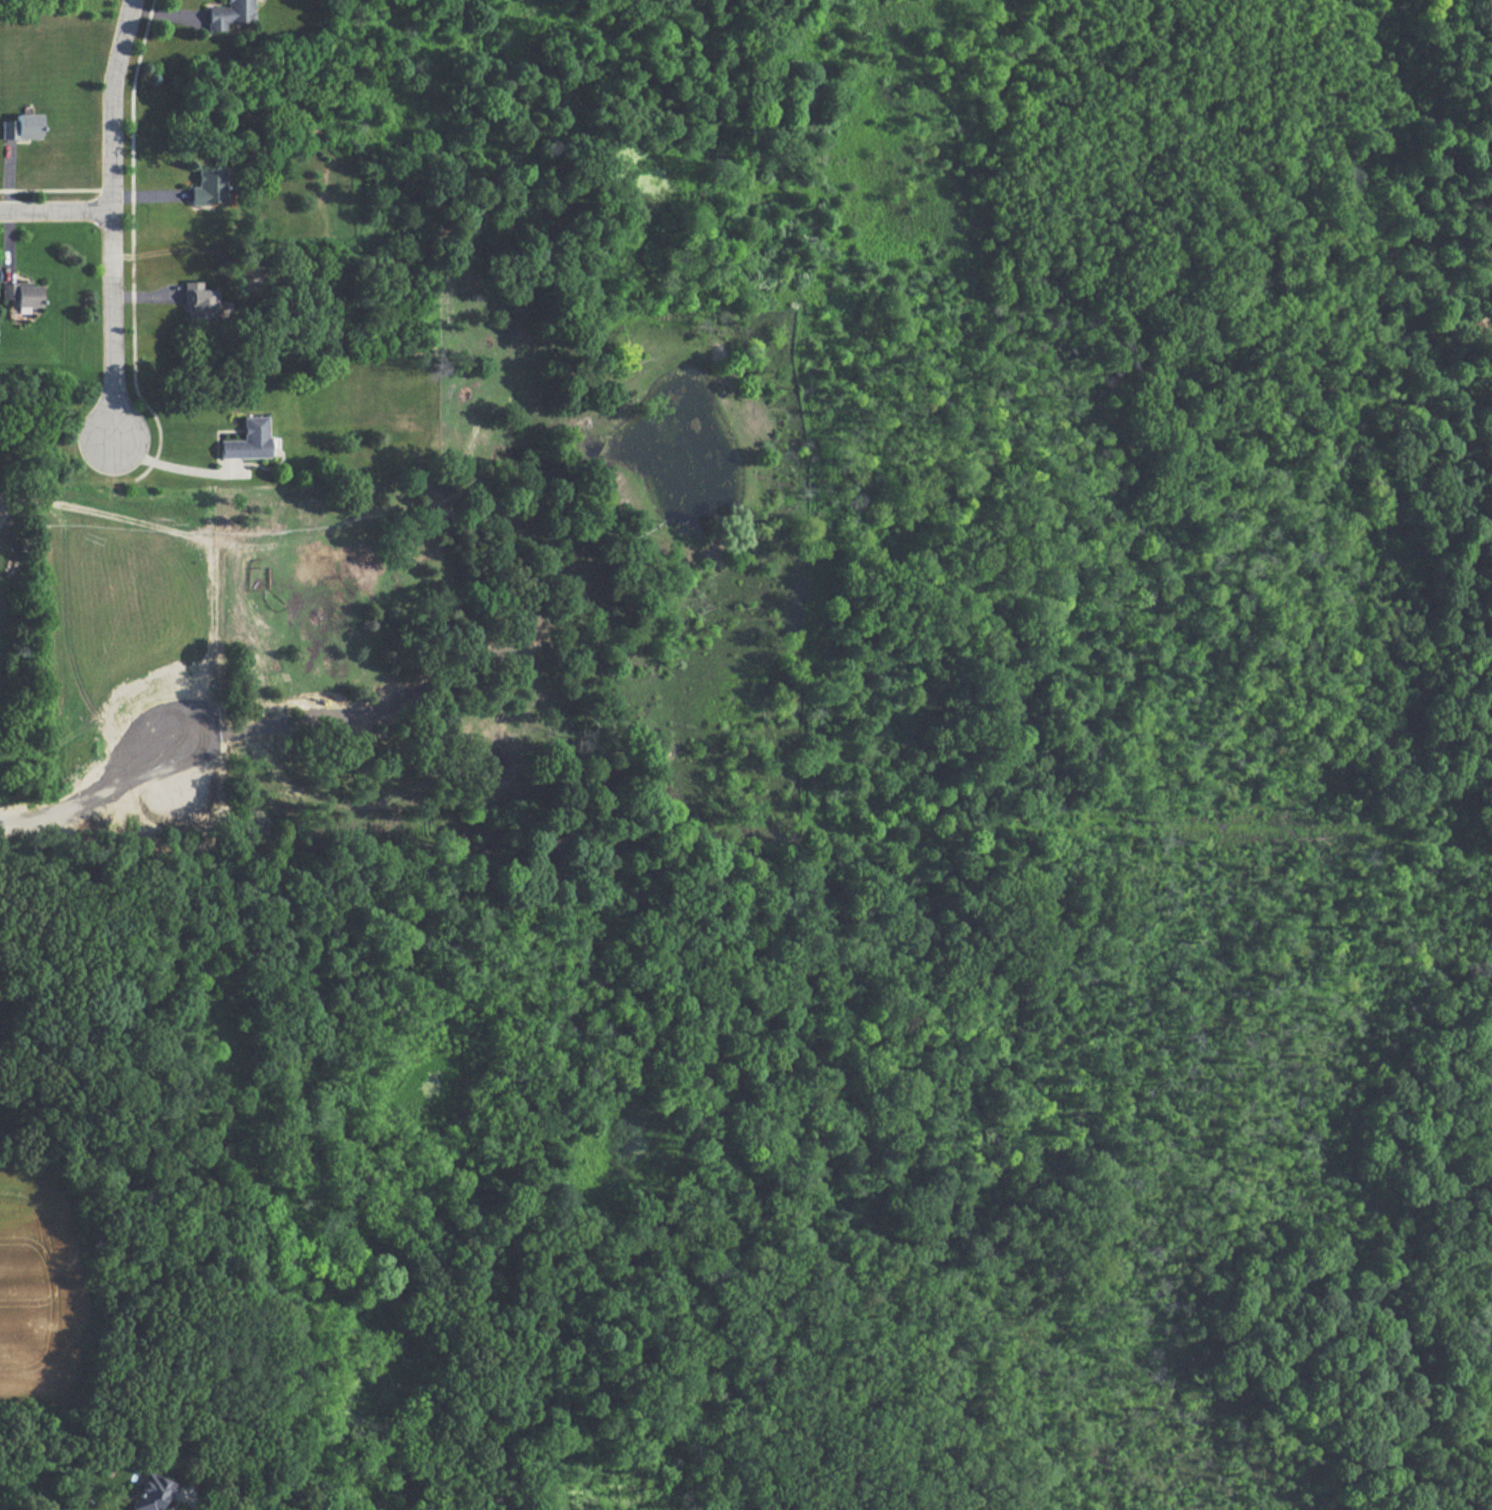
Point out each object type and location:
building: (228, 14)
building: (21, 127)
building: (208, 185)
road: (50, 189)
road: (55, 207)
road: (110, 219)
road: (131, 245)
building: (23, 295)
building: (198, 301)
building: (248, 440)
road: (166, 465)
building: (152, 1492)

